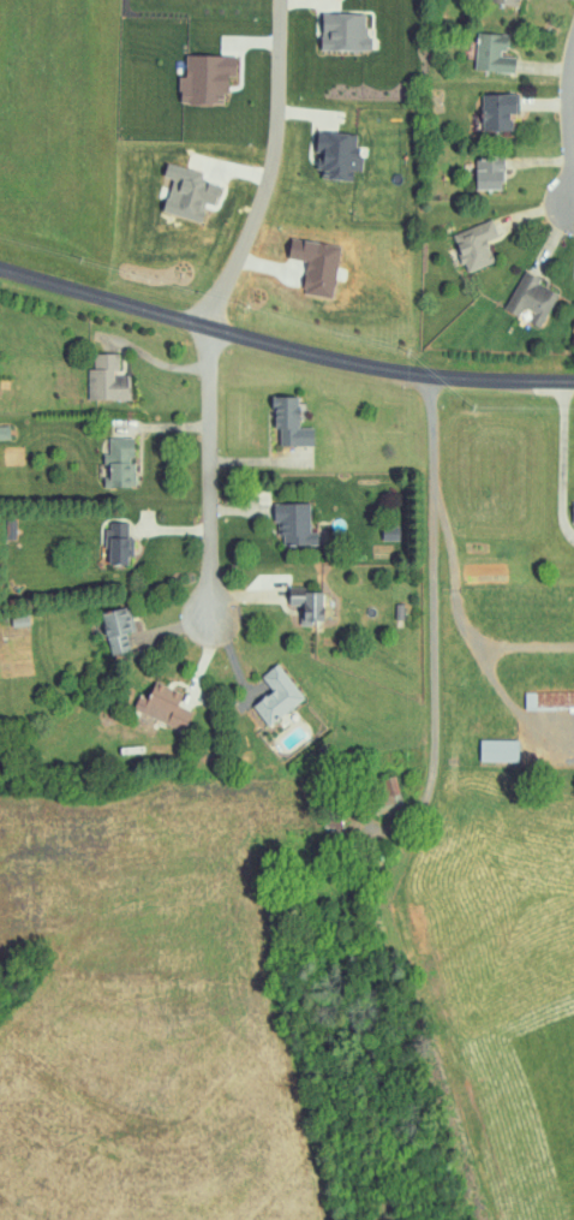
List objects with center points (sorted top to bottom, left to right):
building: (506, 1)
building: (345, 31)
building: (494, 53)
road: (546, 69)
building: (207, 78)
road: (572, 99)
road: (549, 103)
building: (498, 111)
road: (569, 118)
building: (339, 155)
road: (543, 161)
road: (268, 168)
building: (489, 172)
road: (573, 178)
road: (537, 210)
road: (551, 238)
building: (476, 245)
building: (532, 299)
road: (282, 347)
building: (108, 379)
road: (172, 382)
road: (249, 422)
building: (291, 423)
road: (563, 462)
building: (120, 463)
road: (174, 465)
road: (214, 495)
road: (255, 514)
building: (573, 518)
building: (295, 525)
road: (177, 542)
building: (119, 543)
road: (259, 600)
building: (309, 605)
road: (459, 612)
road: (169, 620)
road: (426, 621)
building: (116, 630)
road: (197, 676)
road: (245, 678)
building: (277, 696)
building: (549, 700)
road: (512, 703)
building: (163, 707)
building: (498, 750)
building: (387, 796)

